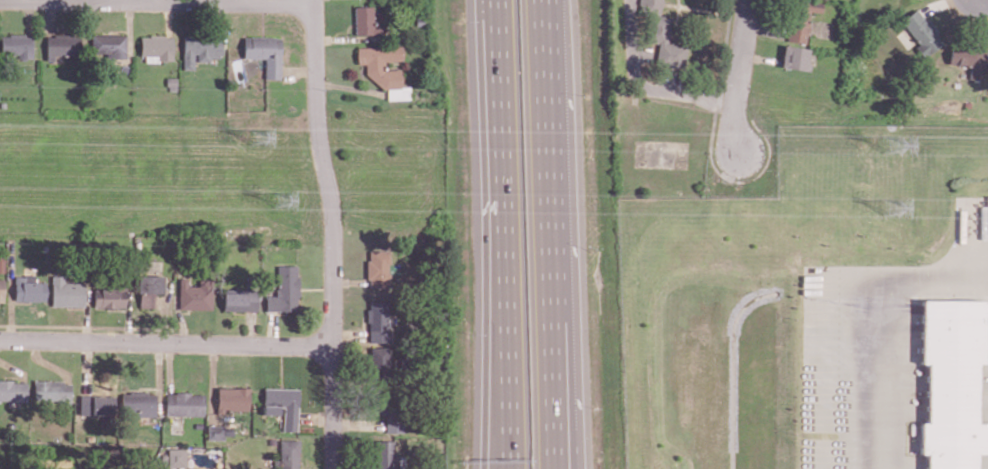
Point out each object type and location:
road: (985, 0)
road: (208, 1)
road: (242, 1)
road: (213, 2)
road: (679, 2)
road: (936, 4)
road: (698, 7)
road: (49, 16)
building: (802, 17)
road: (168, 18)
road: (215, 18)
road: (261, 18)
building: (418, 20)
street lamp: (463, 20)
building: (363, 21)
road: (983, 24)
road: (129, 27)
road: (767, 28)
building: (918, 32)
building: (662, 34)
road: (342, 38)
building: (17, 44)
building: (108, 44)
building: (63, 45)
building: (155, 46)
building: (198, 48)
building: (263, 52)
road: (760, 57)
building: (794, 57)
building: (968, 59)
building: (379, 64)
road: (297, 71)
road: (738, 77)
road: (363, 78)
building: (170, 83)
street lamp: (724, 83)
road: (646, 84)
road: (350, 87)
street lamp: (325, 90)
street lamp: (587, 95)
road: (718, 95)
building: (2, 103)
power tower: (263, 140)
power tower: (892, 147)
power tower: (279, 198)
power tower: (901, 204)
road: (333, 233)
road: (505, 234)
road: (555, 234)
street lamp: (322, 244)
street lamp: (591, 251)
building: (1, 265)
building: (377, 267)
road: (350, 282)
building: (147, 287)
building: (27, 288)
road: (317, 288)
building: (1, 289)
road: (11, 289)
building: (284, 289)
building: (65, 292)
building: (194, 294)
building: (108, 295)
building: (239, 300)
road: (563, 302)
road: (864, 310)
road: (86, 312)
road: (127, 316)
road: (162, 319)
road: (182, 321)
building: (376, 321)
road: (86, 326)
road: (250, 328)
road: (272, 328)
street lamp: (469, 333)
road: (350, 335)
road: (166, 343)
road: (499, 351)
street lamp: (302, 356)
road: (45, 362)
building: (380, 364)
road: (281, 365)
road: (169, 366)
road: (12, 368)
road: (158, 379)
building: (948, 382)
road: (212, 383)
building: (48, 389)
building: (11, 390)
building: (231, 398)
building: (136, 402)
building: (183, 403)
building: (93, 404)
building: (281, 404)
street lamp: (597, 407)
building: (388, 409)
road: (315, 417)
road: (357, 423)
building: (198, 425)
building: (214, 431)
building: (270, 440)
building: (283, 455)
building: (383, 455)
building: (175, 457)
building: (122, 468)

